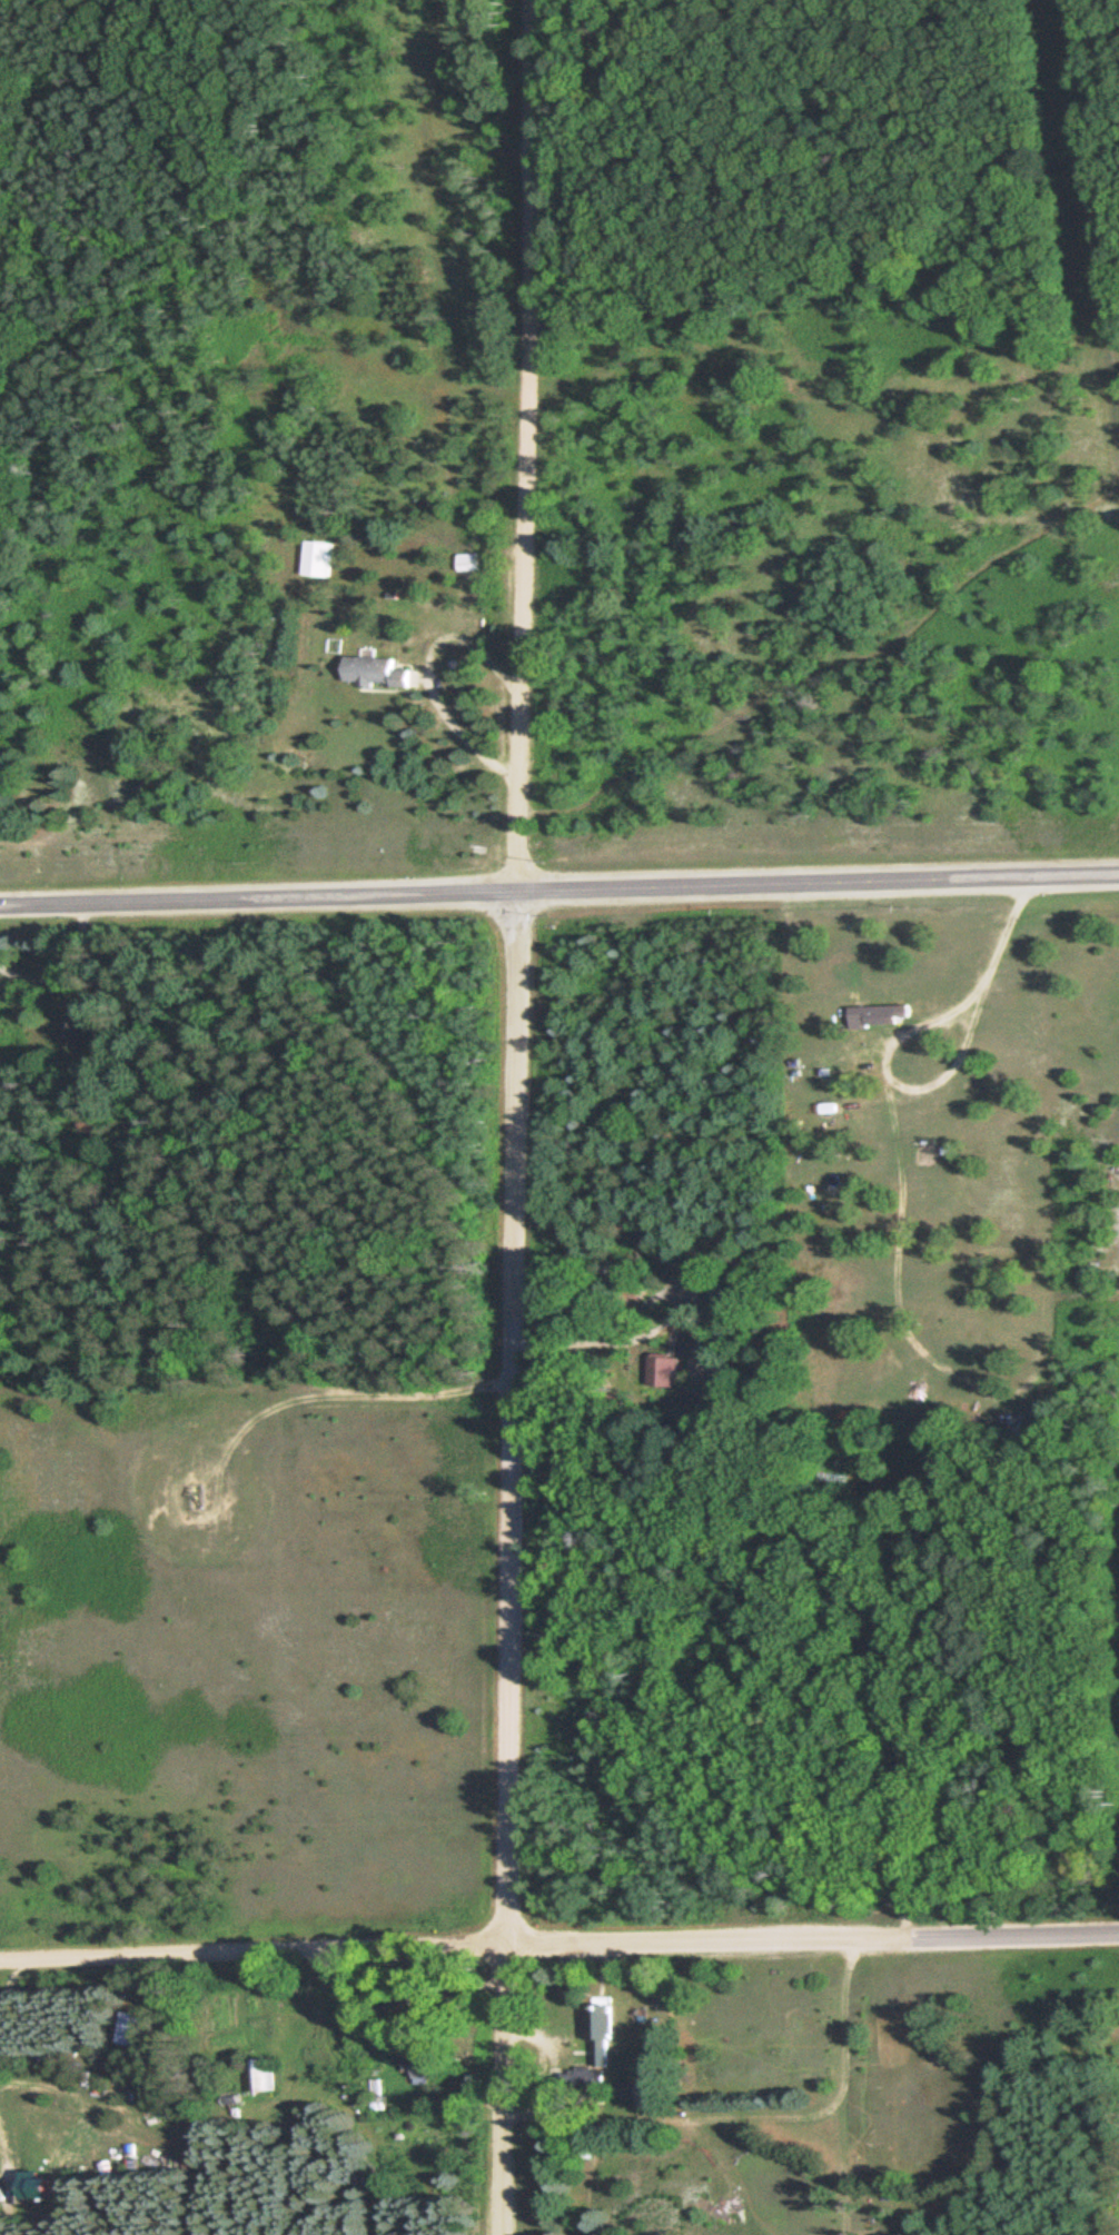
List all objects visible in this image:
road: (524, 446)
building: (319, 557)
building: (469, 560)
building: (377, 672)
road: (669, 887)
road: (110, 903)
building: (879, 1015)
building: (76, 1031)
building: (732, 1233)
building: (726, 1302)
building: (666, 1371)
road: (273, 1405)
road: (509, 1563)
road: (1019, 1931)
road: (458, 1946)
building: (137, 2029)
building: (602, 2055)
building: (424, 2064)
building: (266, 2077)

